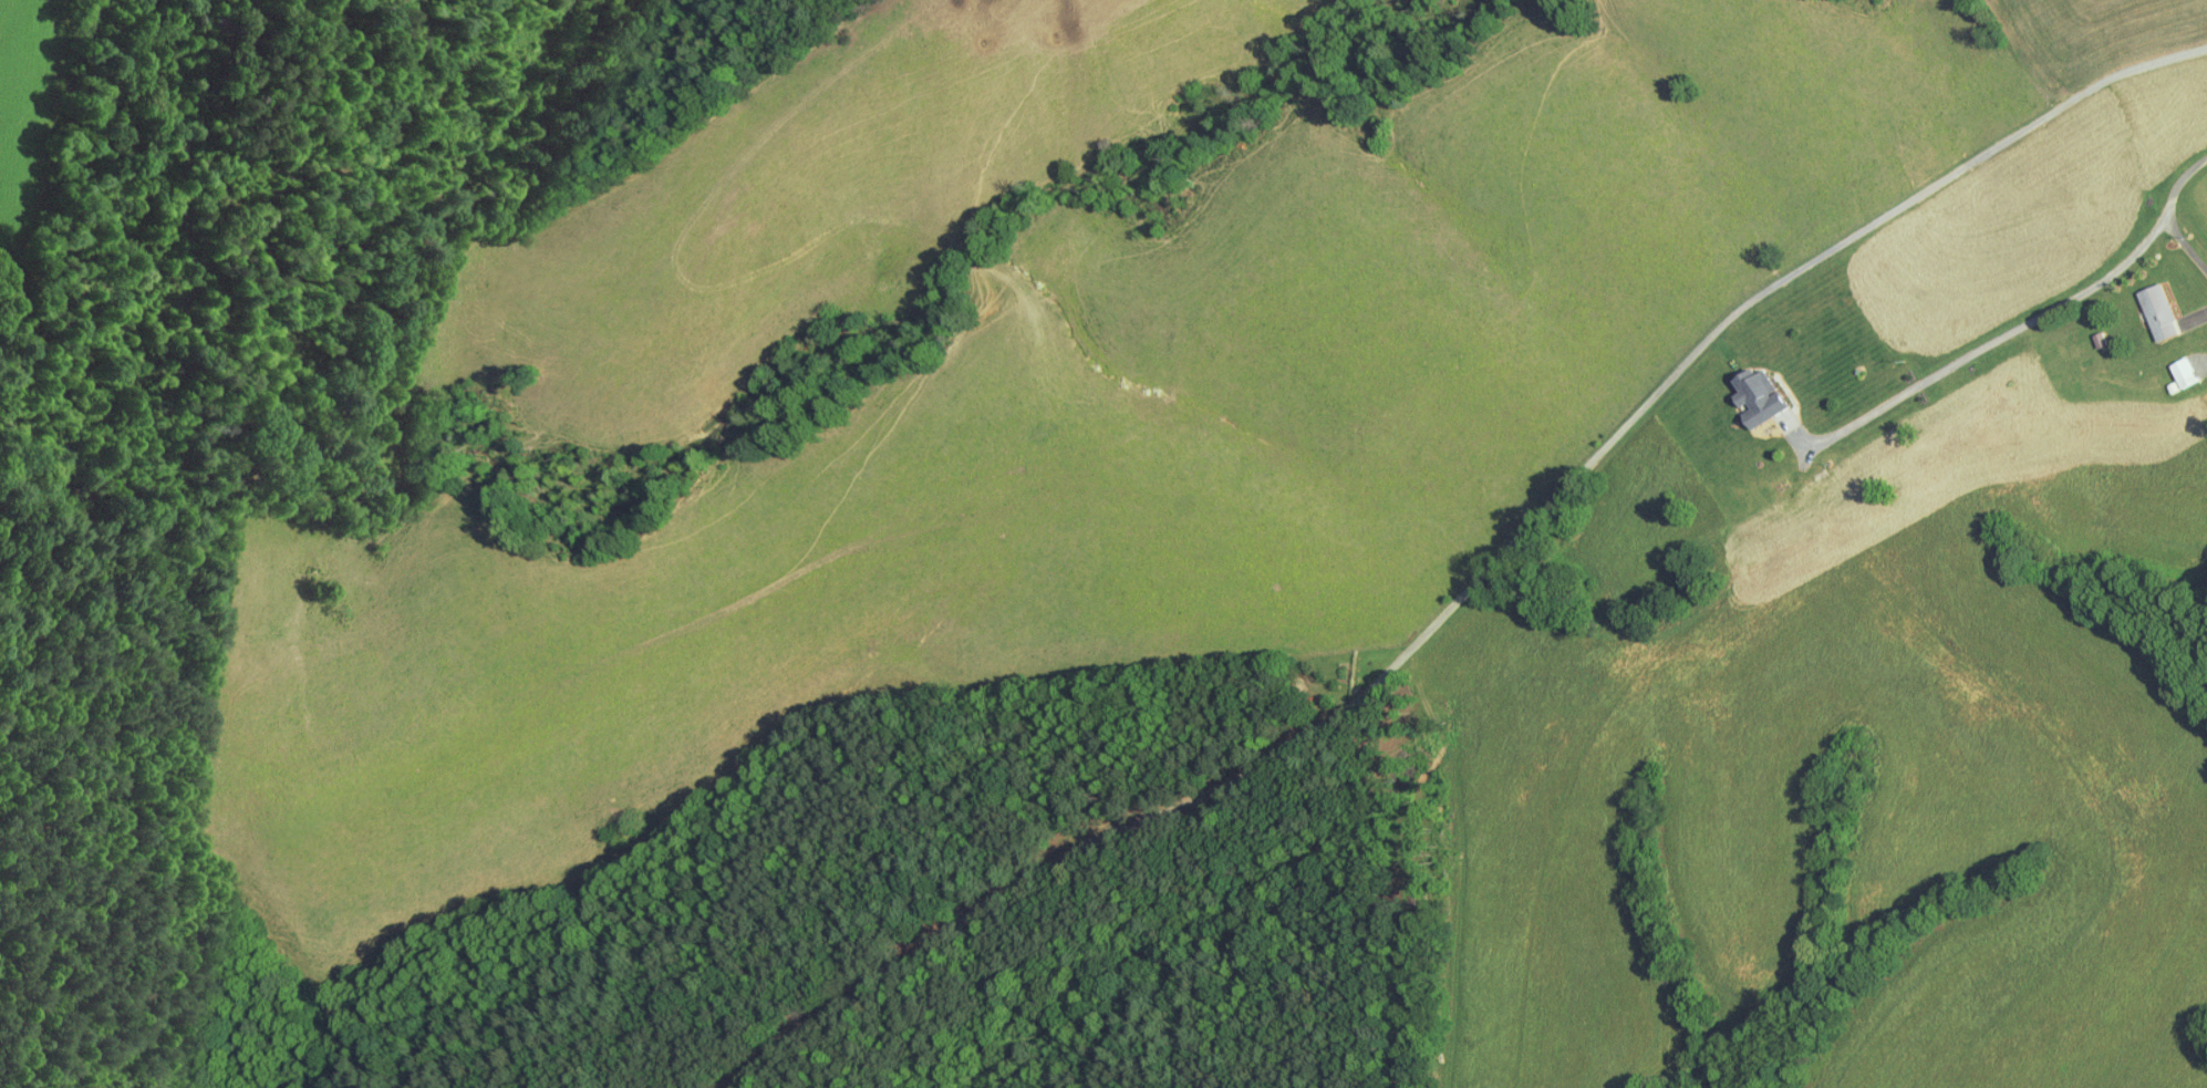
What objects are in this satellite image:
road: (2169, 211)
building: (2148, 303)
road: (2196, 315)
road: (1988, 342)
building: (2174, 364)
building: (1749, 388)
road: (1476, 580)

